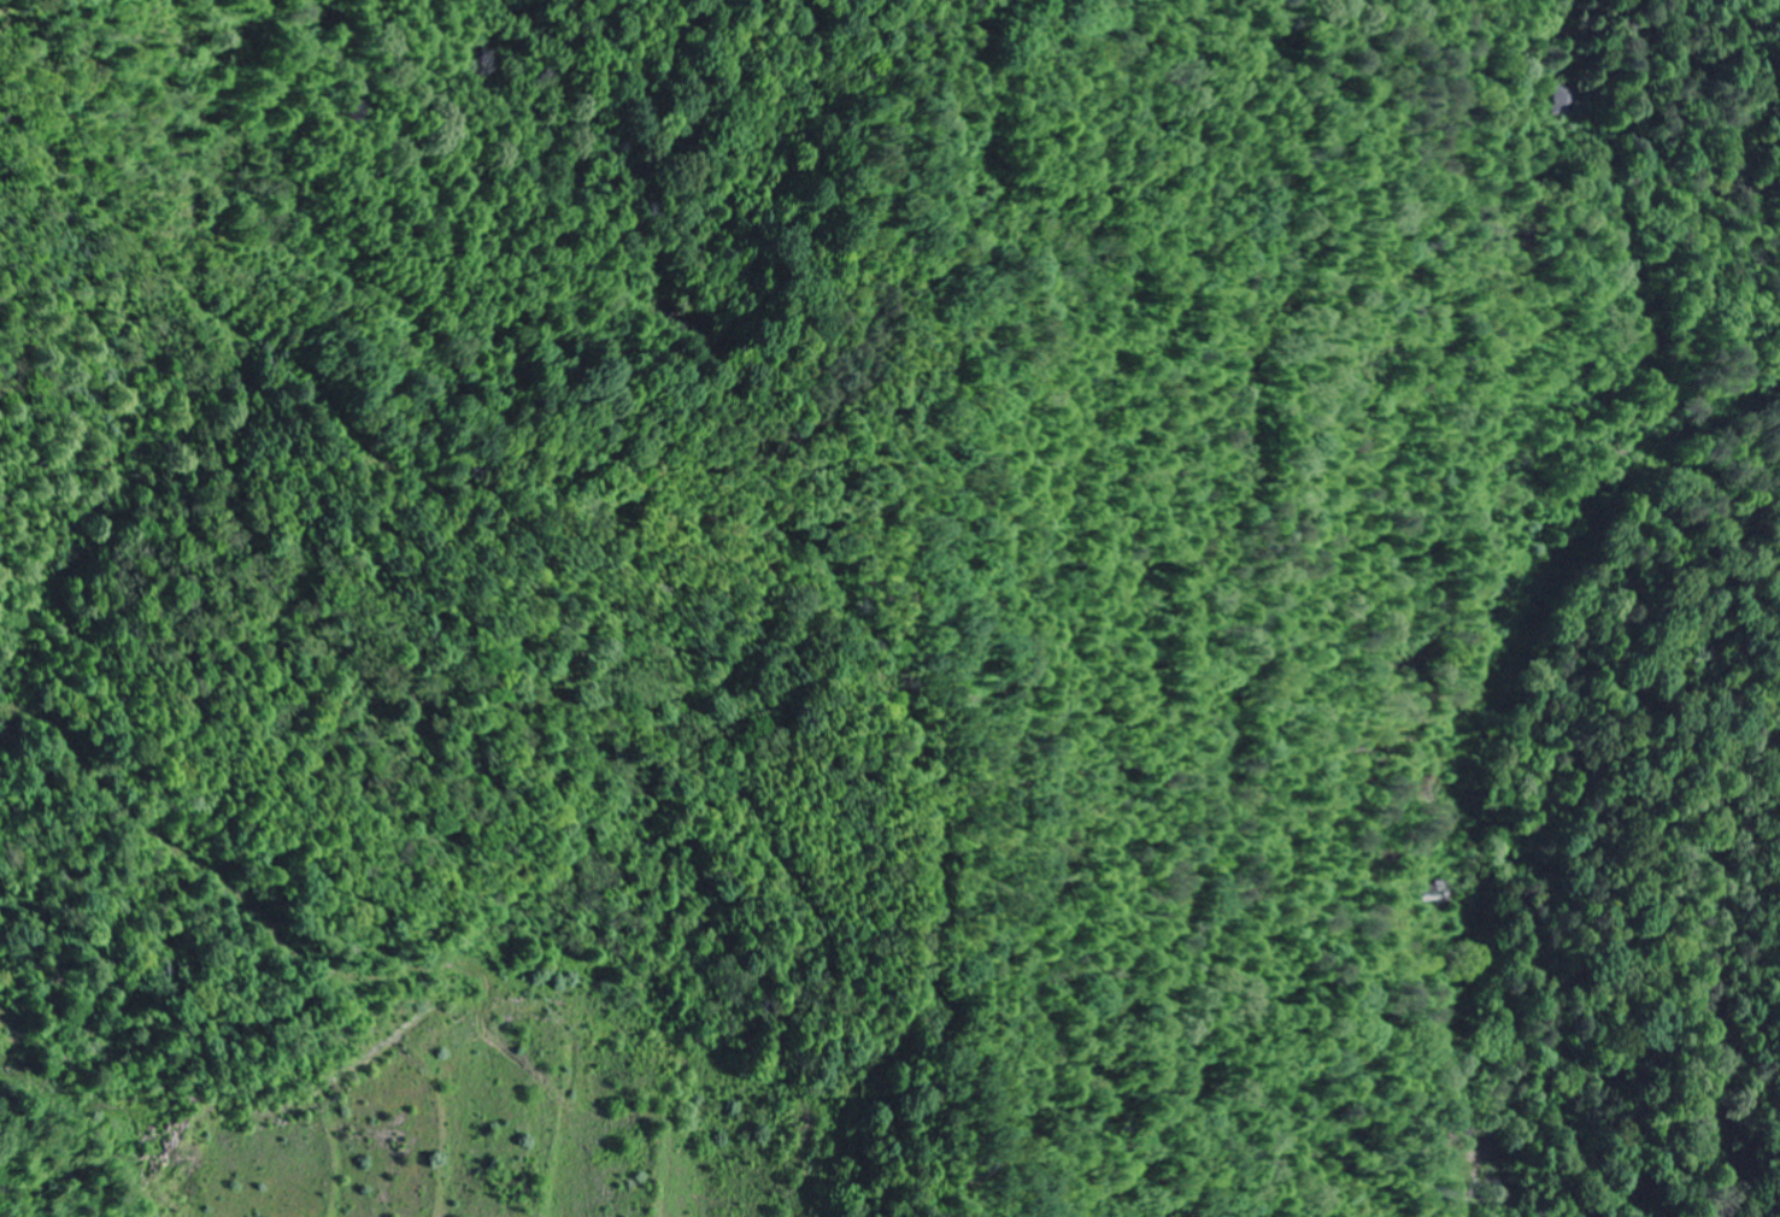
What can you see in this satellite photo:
road: (1614, 563)

